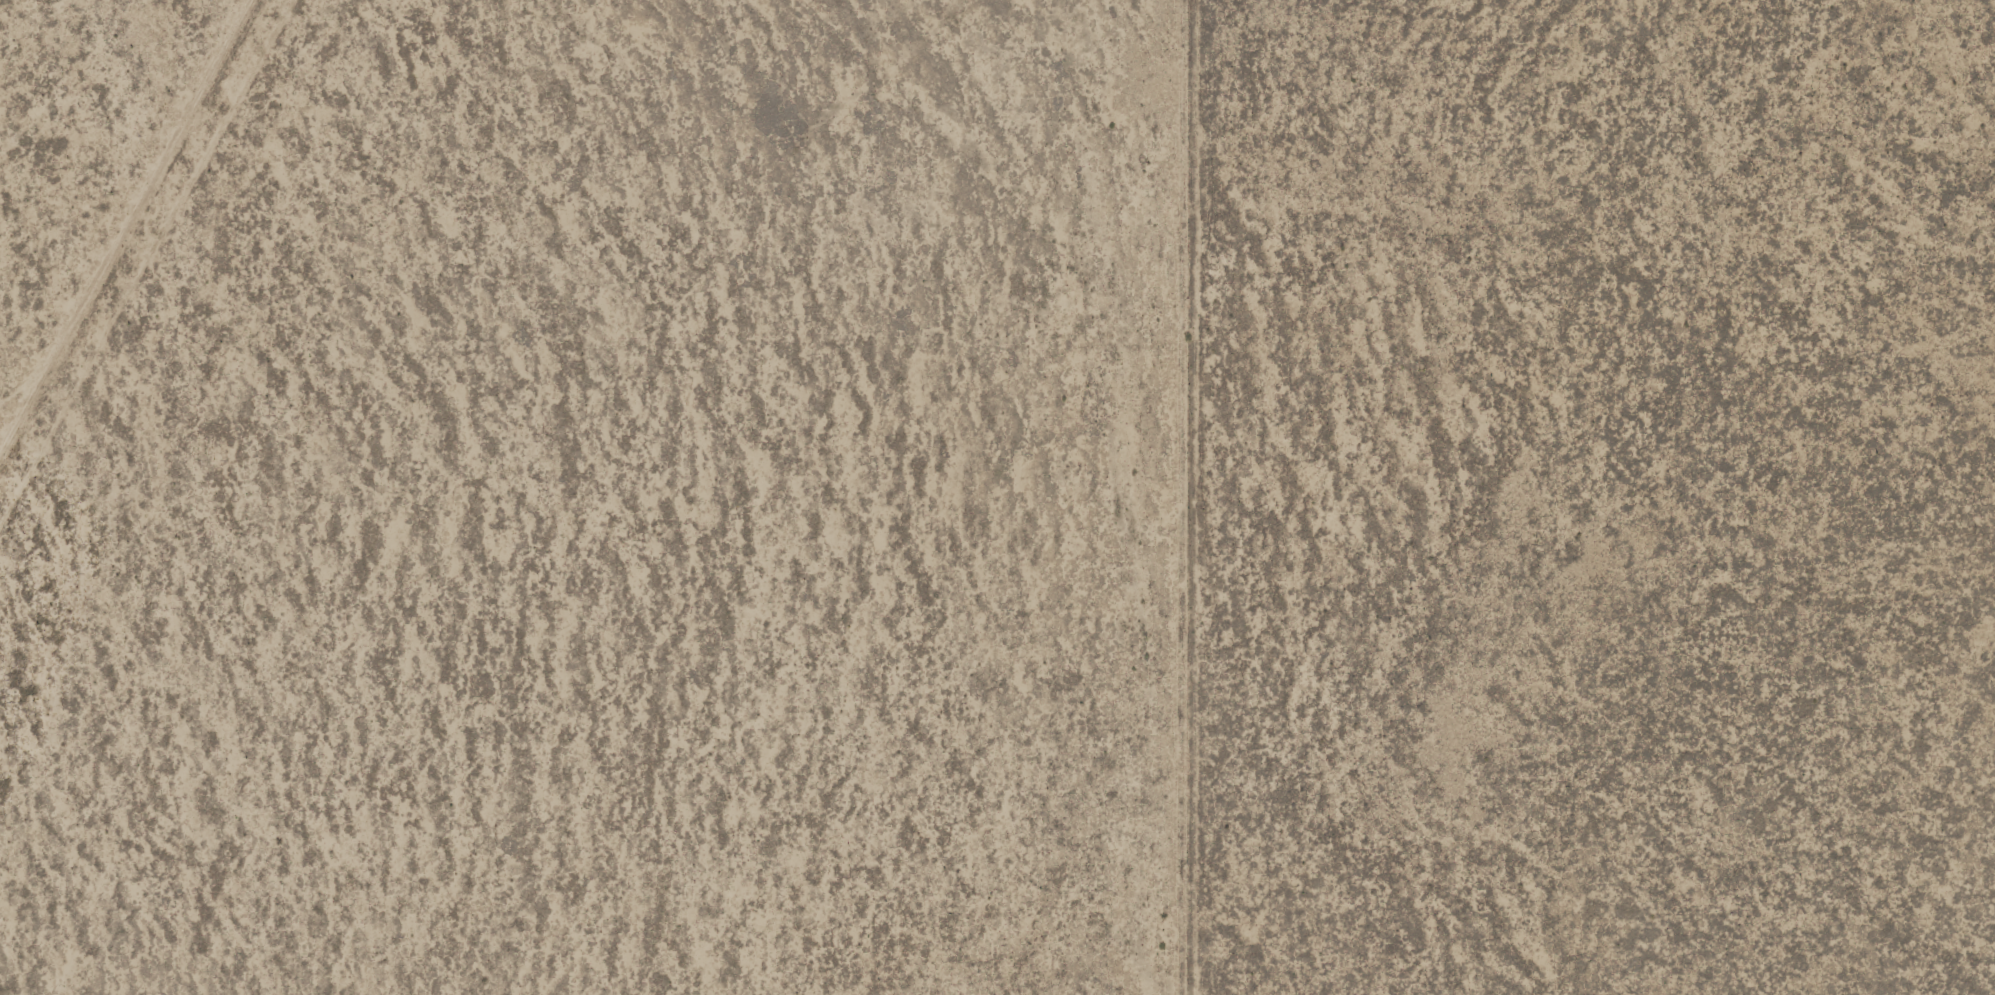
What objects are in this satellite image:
road: (126, 227)

